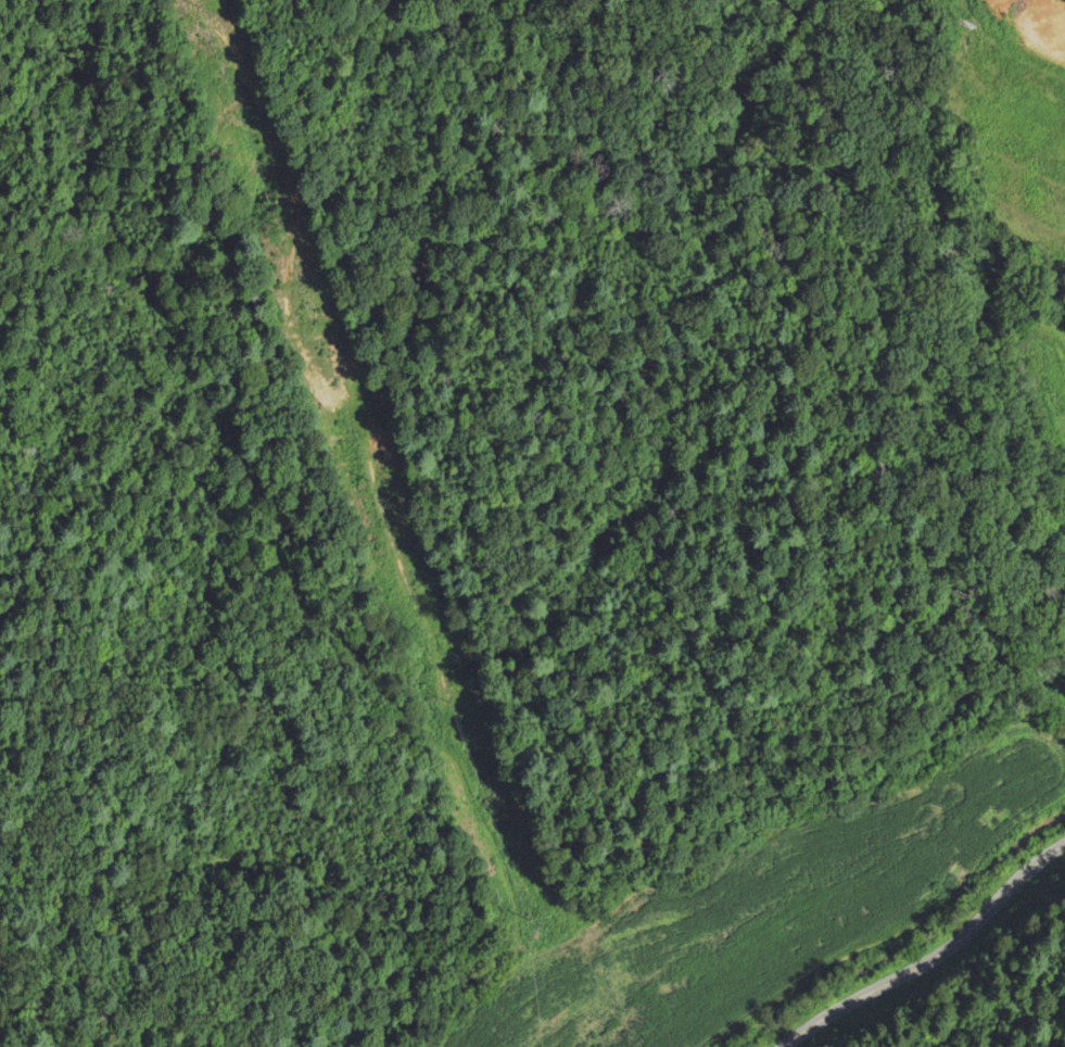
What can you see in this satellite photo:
road: (934, 958)

